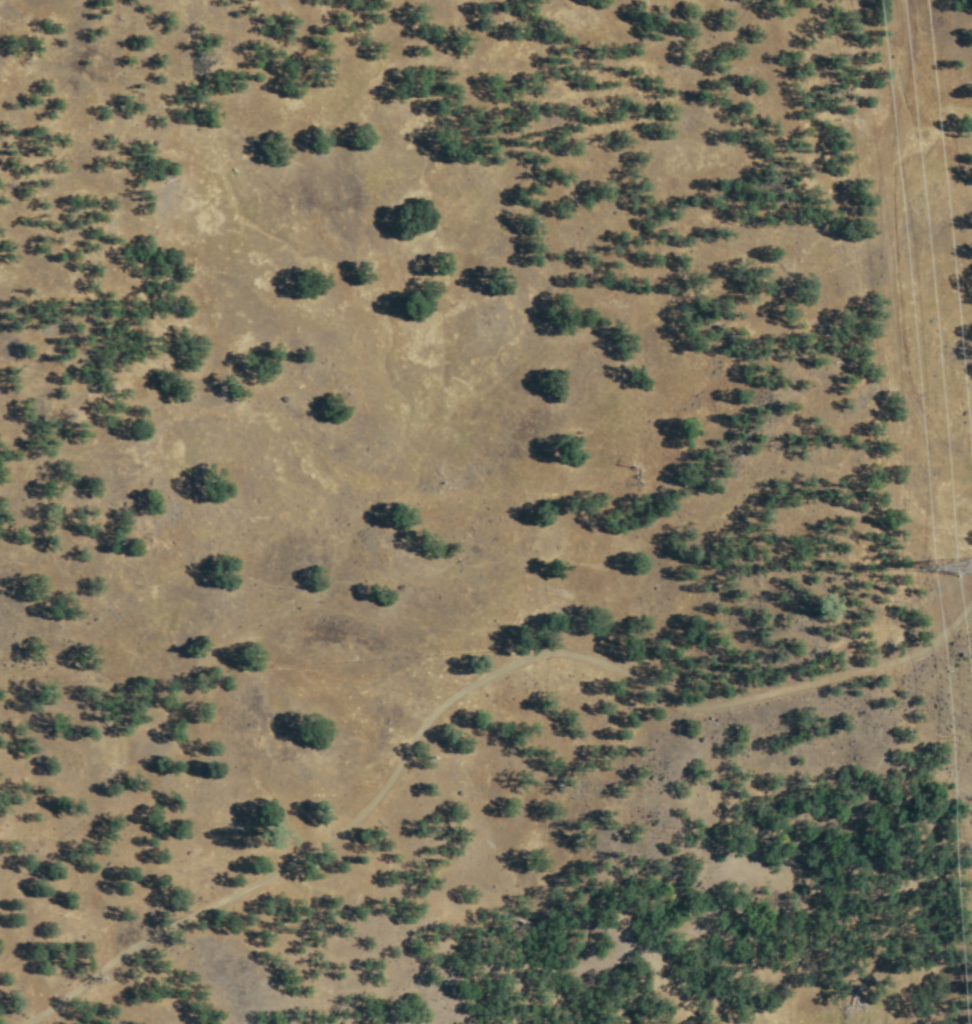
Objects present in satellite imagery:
road: (517, 518)
power tower: (965, 567)
road: (763, 693)
road: (297, 857)

